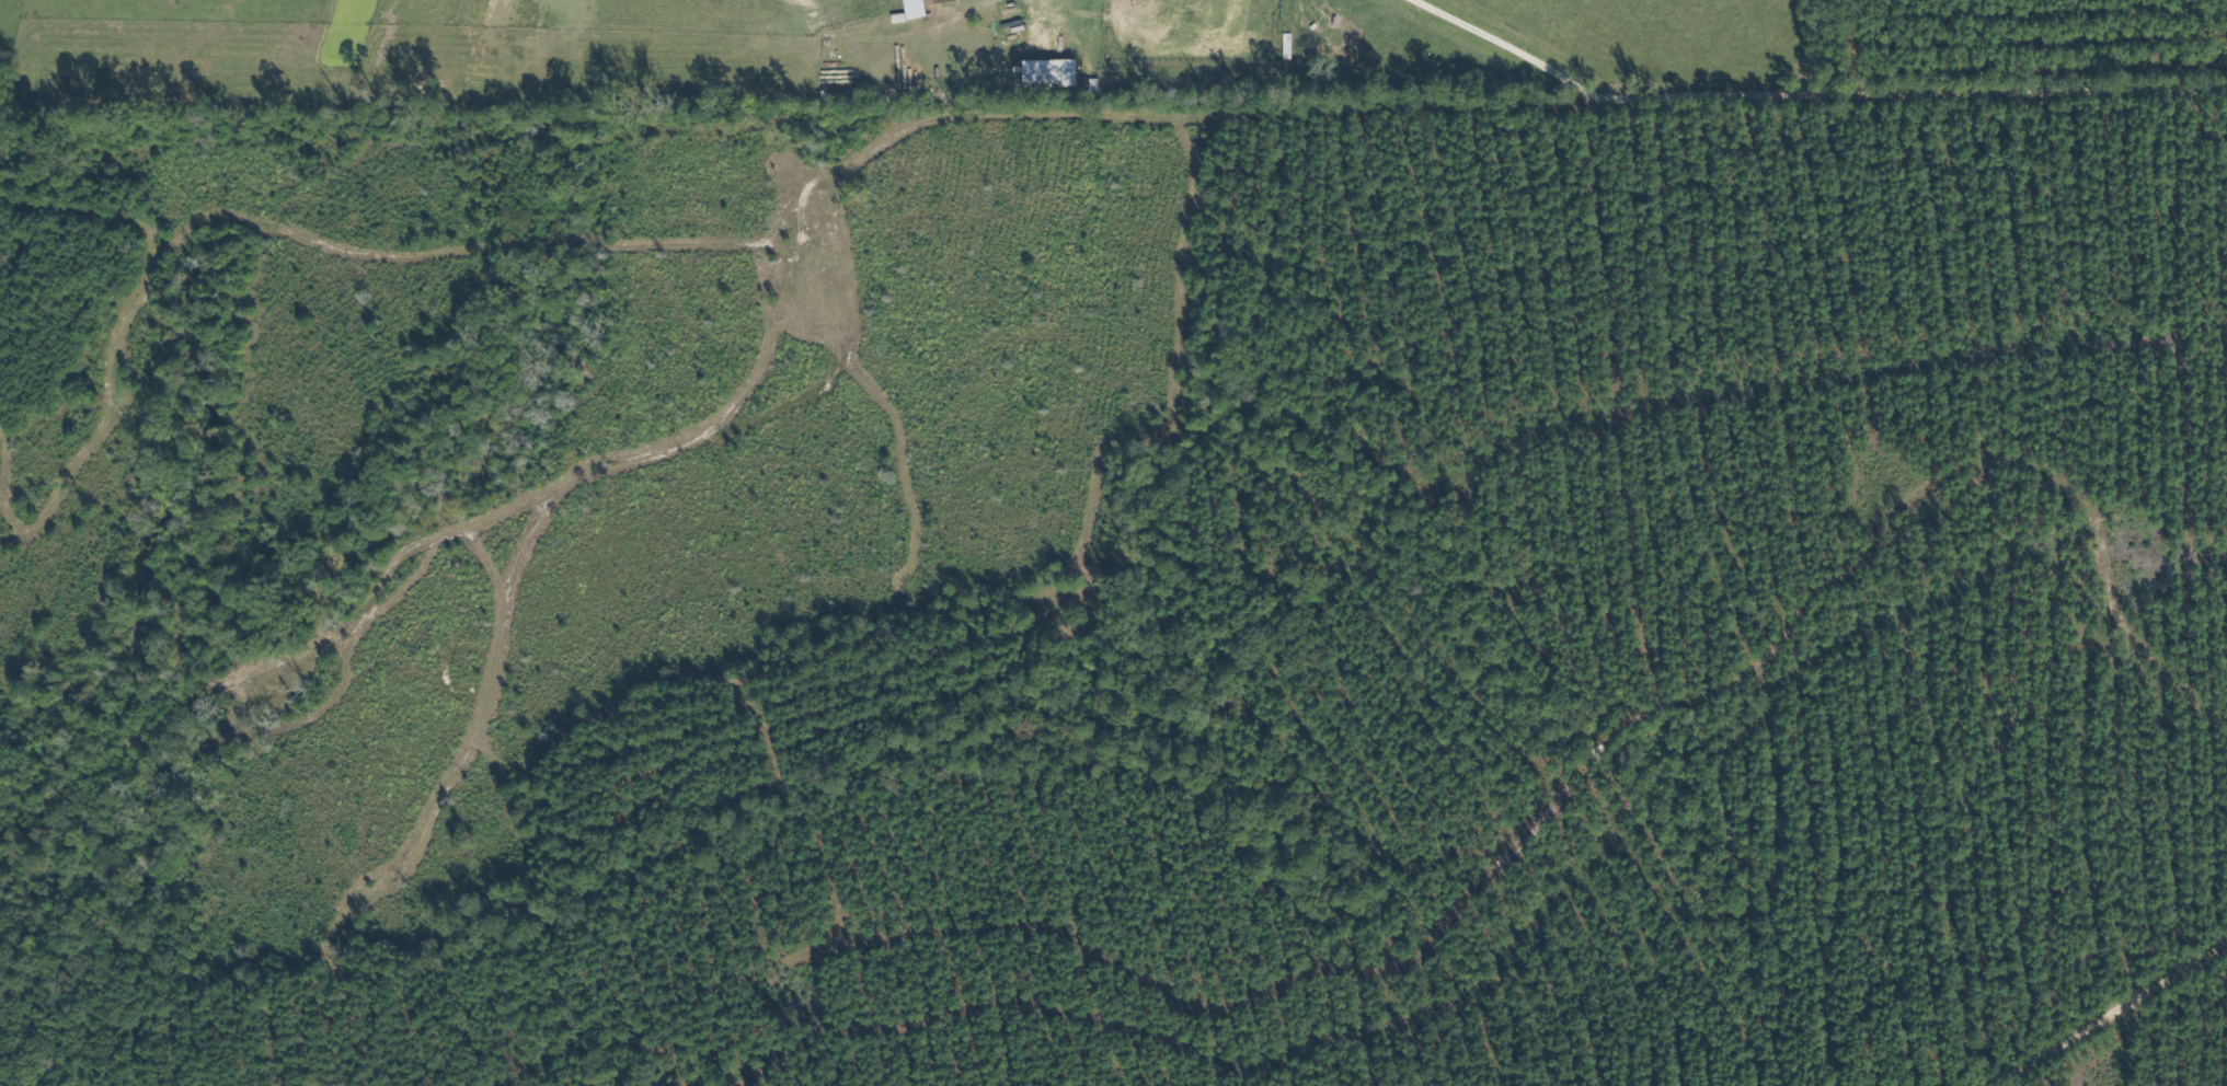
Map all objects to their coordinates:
building: (918, 9)
building: (1053, 73)
road: (1812, 91)
road: (2104, 1013)

